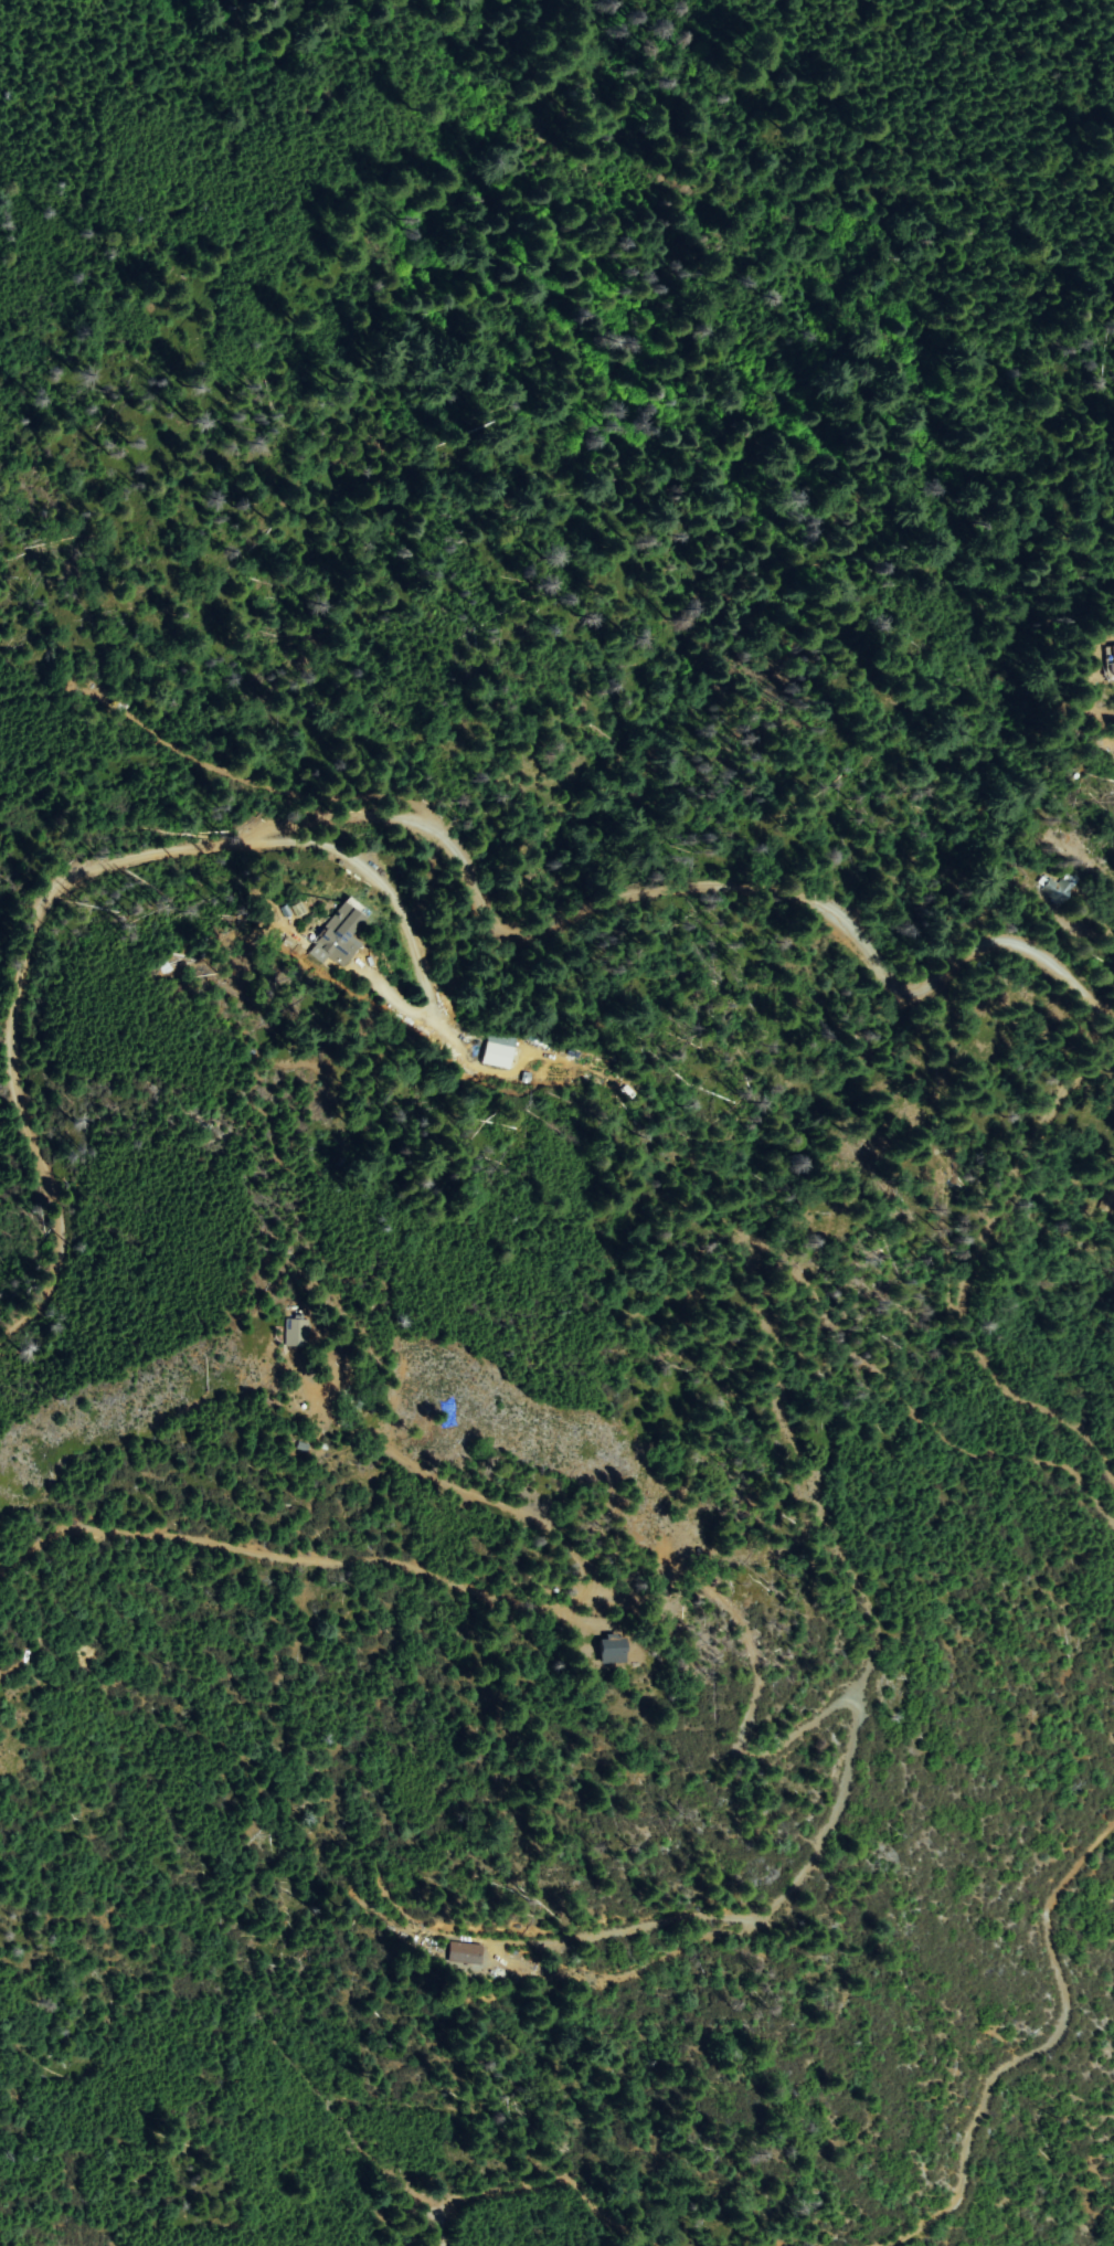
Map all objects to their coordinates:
building: (1113, 659)
road: (357, 872)
building: (346, 937)
building: (498, 1056)
road: (962, 1259)
road: (723, 1280)
building: (295, 1332)
road: (435, 1579)
building: (620, 1651)
road: (597, 1741)
building: (476, 1953)
road: (1030, 2054)
road: (556, 2185)

